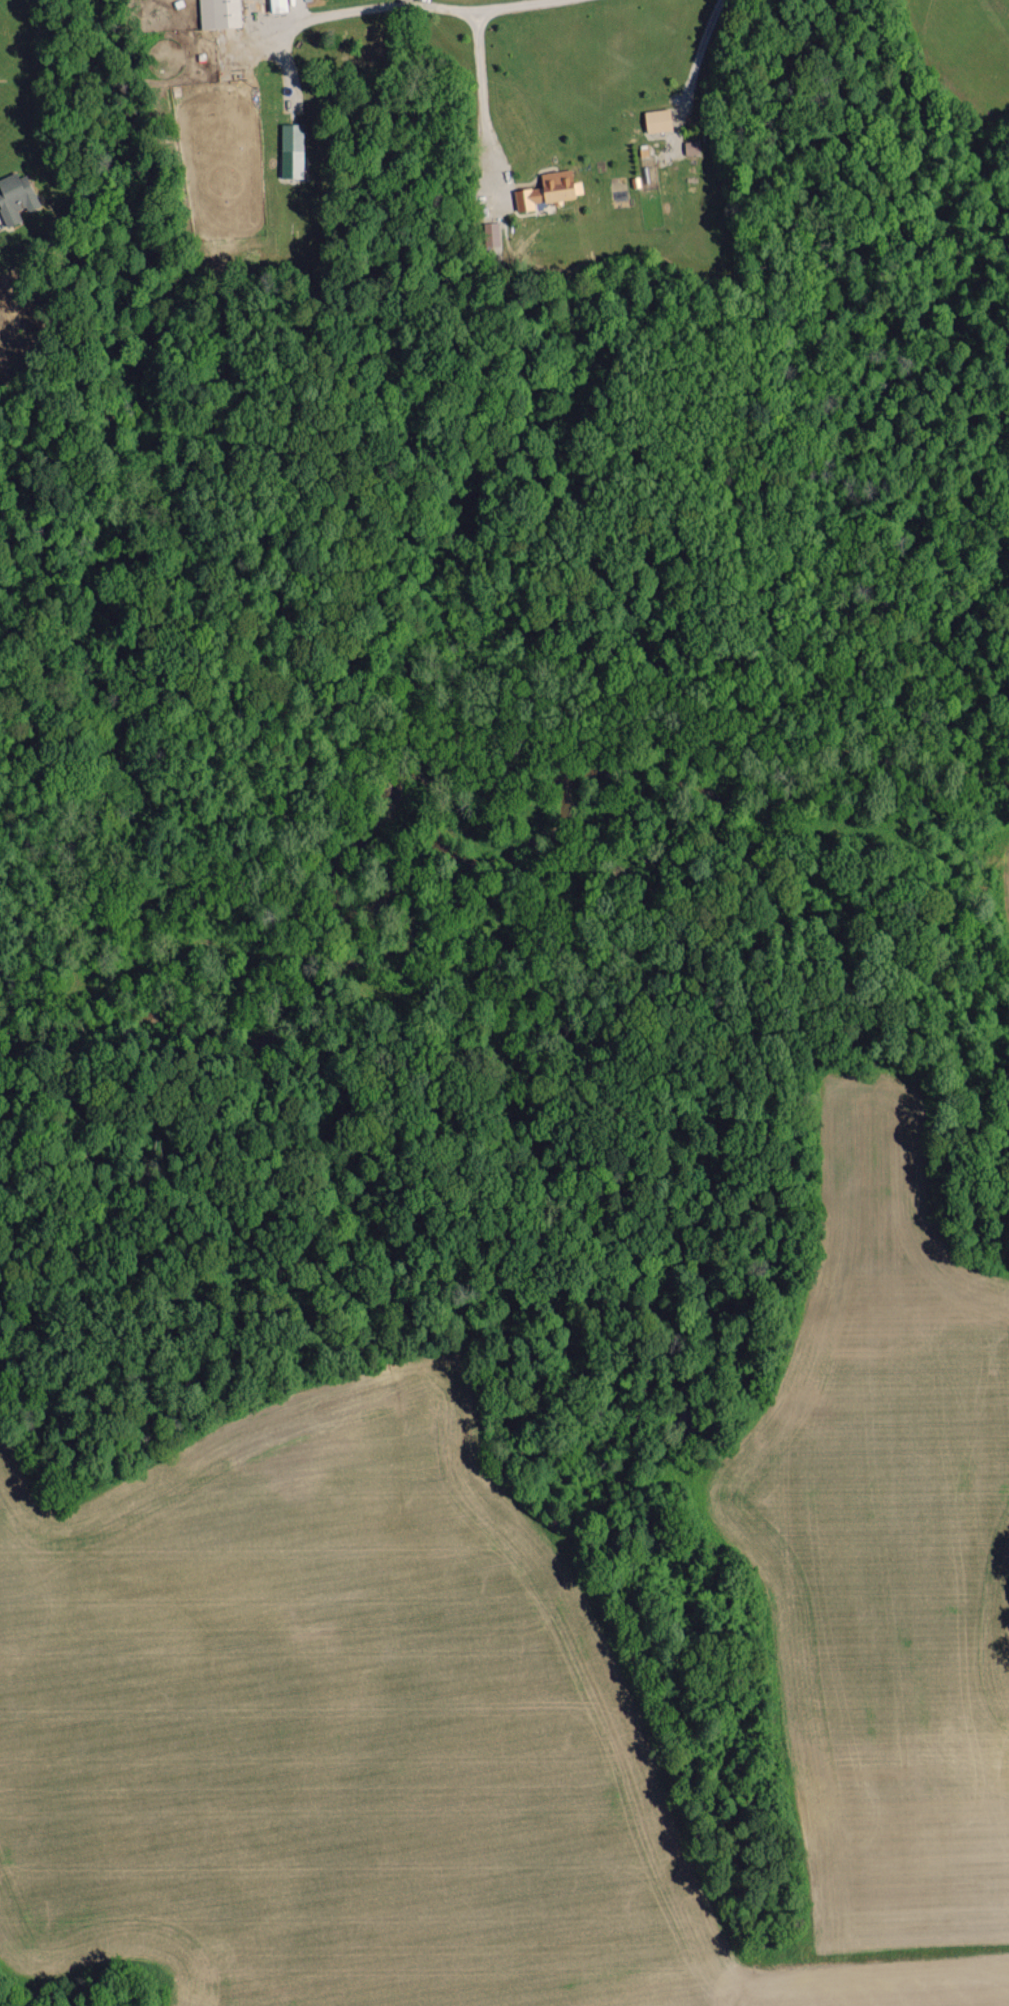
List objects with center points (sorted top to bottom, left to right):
road: (394, 0)
building: (278, 5)
building: (219, 13)
road: (692, 74)
road: (484, 104)
building: (657, 119)
building: (691, 146)
building: (292, 150)
building: (548, 189)
building: (15, 197)
building: (491, 233)

